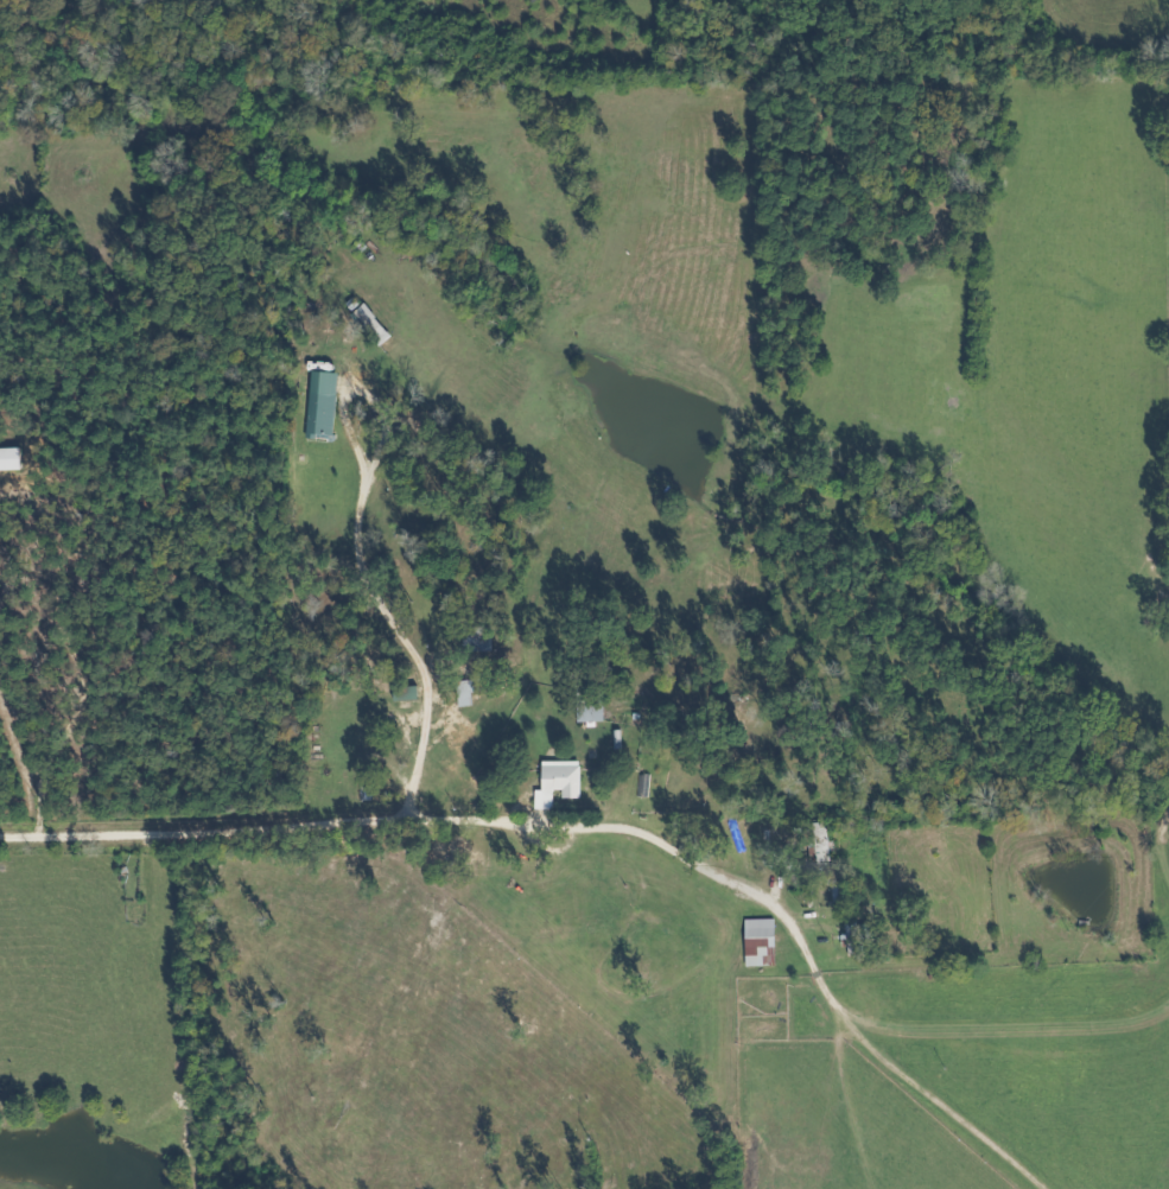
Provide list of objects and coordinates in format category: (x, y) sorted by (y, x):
building: (367, 323)
building: (317, 402)
building: (474, 637)
building: (463, 689)
building: (401, 692)
building: (586, 710)
building: (553, 784)
road: (595, 837)
building: (817, 840)
building: (834, 892)
building: (756, 941)

